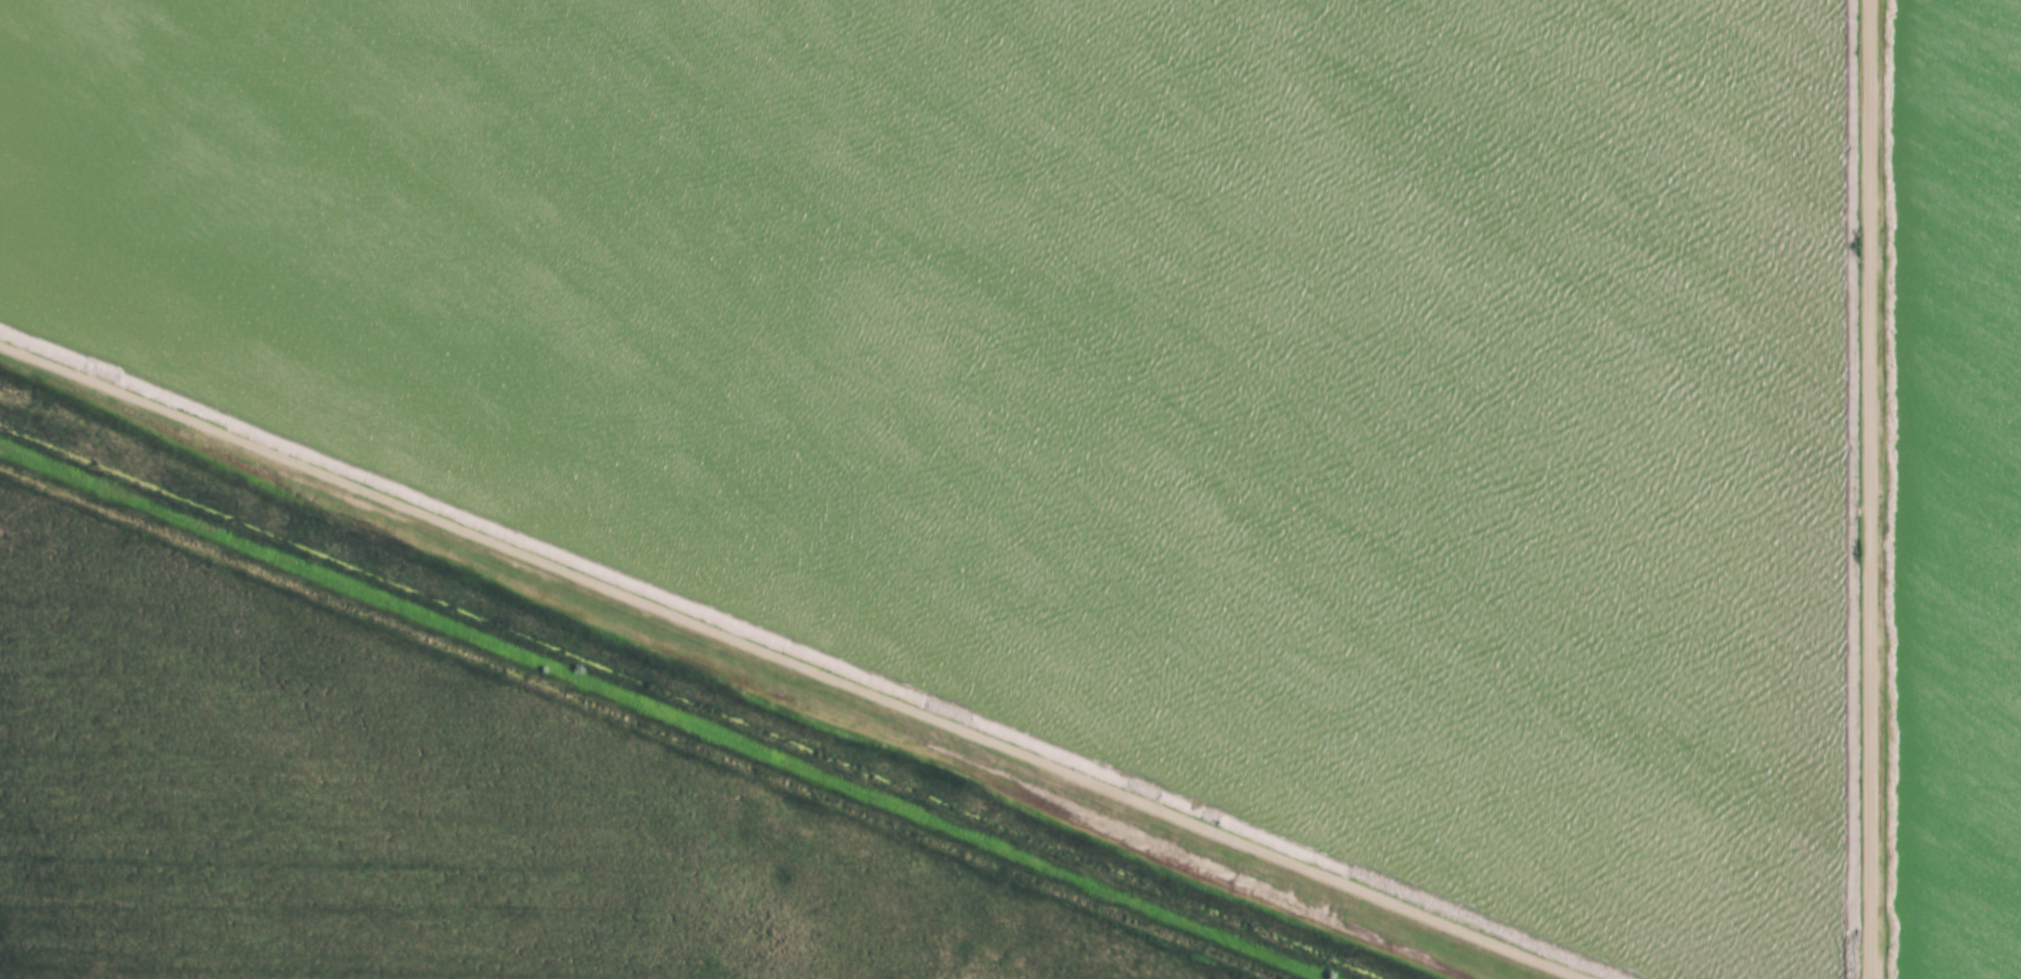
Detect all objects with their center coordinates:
road: (1875, 489)
road: (781, 661)
airport: (487, 779)

